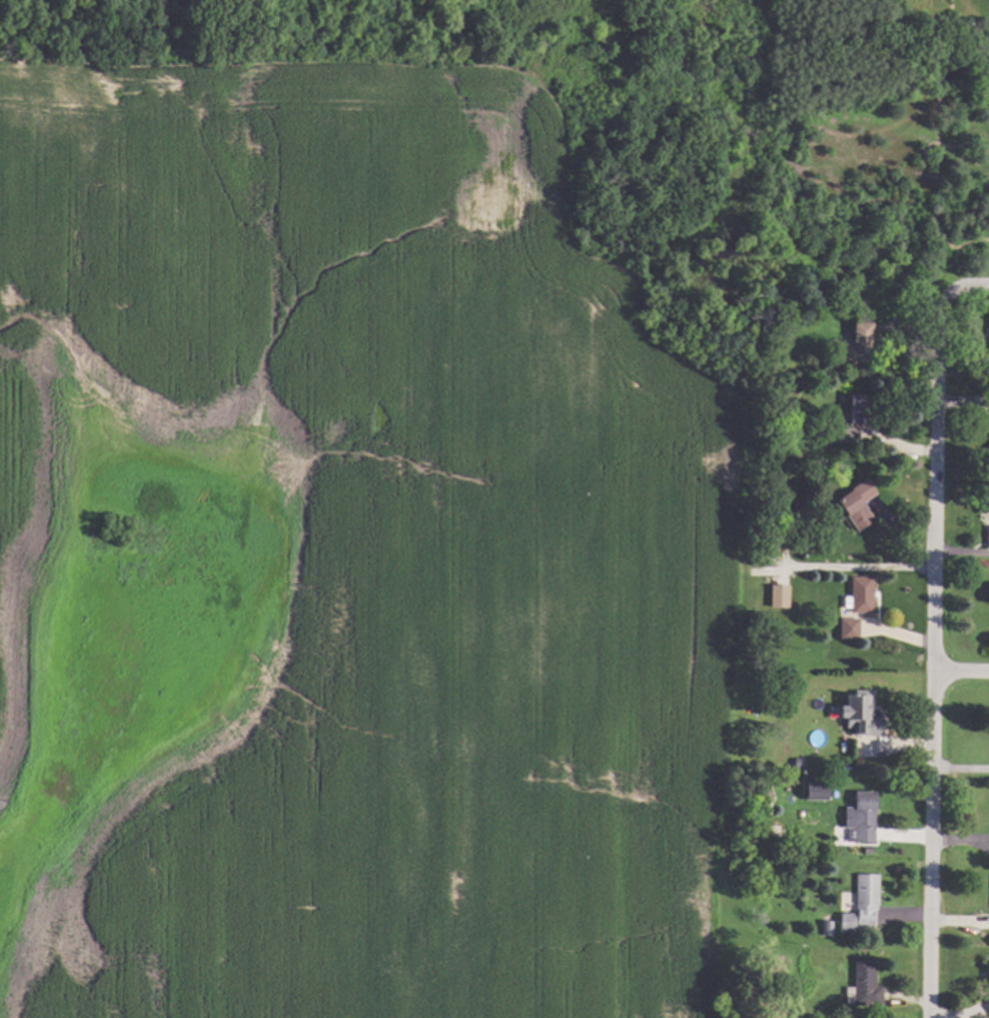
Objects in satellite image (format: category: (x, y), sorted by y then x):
road: (957, 292)
building: (822, 298)
building: (988, 338)
building: (862, 342)
building: (862, 408)
building: (987, 433)
building: (844, 434)
building: (860, 503)
building: (785, 530)
building: (987, 538)
crop: (350, 561)
road: (859, 561)
building: (773, 591)
building: (864, 594)
building: (852, 628)
road: (935, 668)
road: (962, 673)
building: (863, 712)
building: (800, 762)
building: (827, 765)
road: (961, 769)
building: (800, 780)
building: (809, 782)
building: (823, 783)
building: (815, 792)
building: (863, 817)
building: (869, 898)
building: (849, 922)
building: (830, 927)
building: (988, 973)
building: (865, 984)
building: (765, 996)

